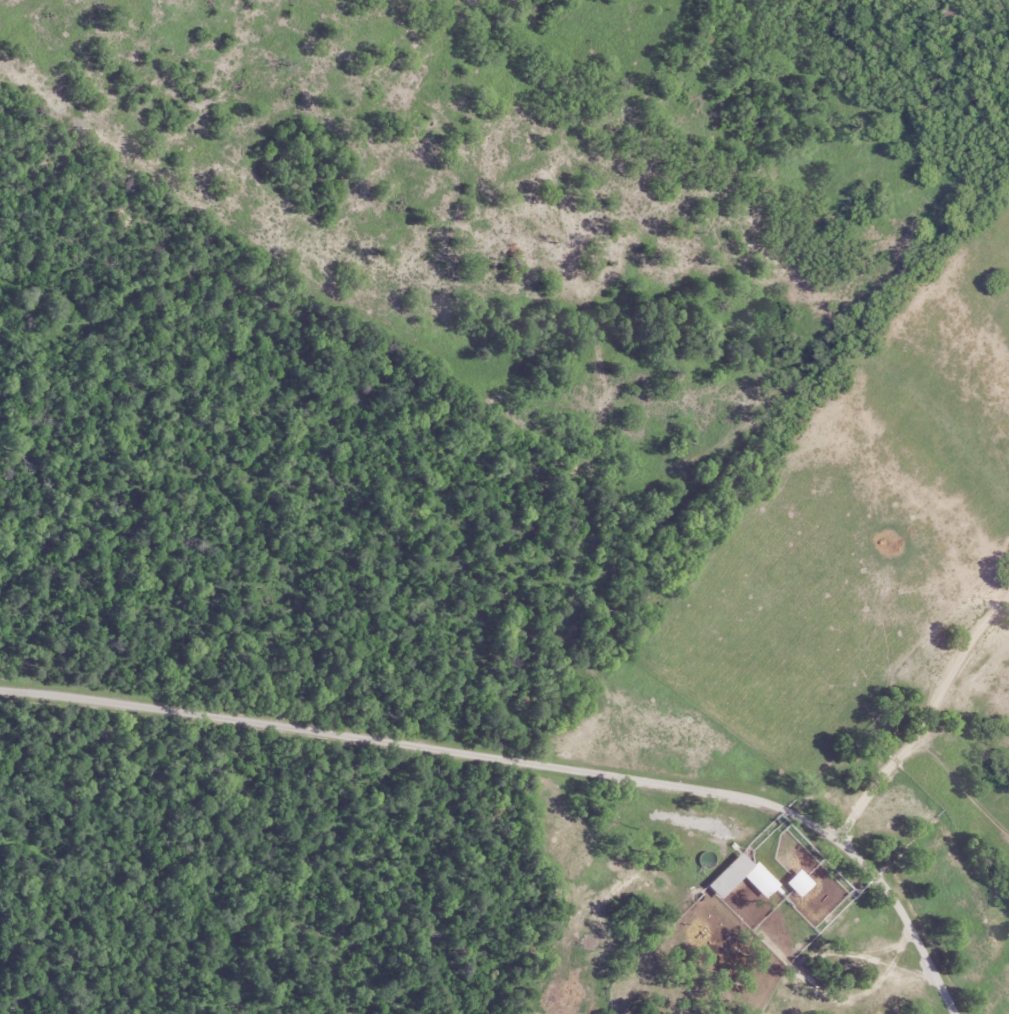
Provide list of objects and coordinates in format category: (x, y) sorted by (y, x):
road: (906, 712)
road: (528, 797)
building: (722, 875)

